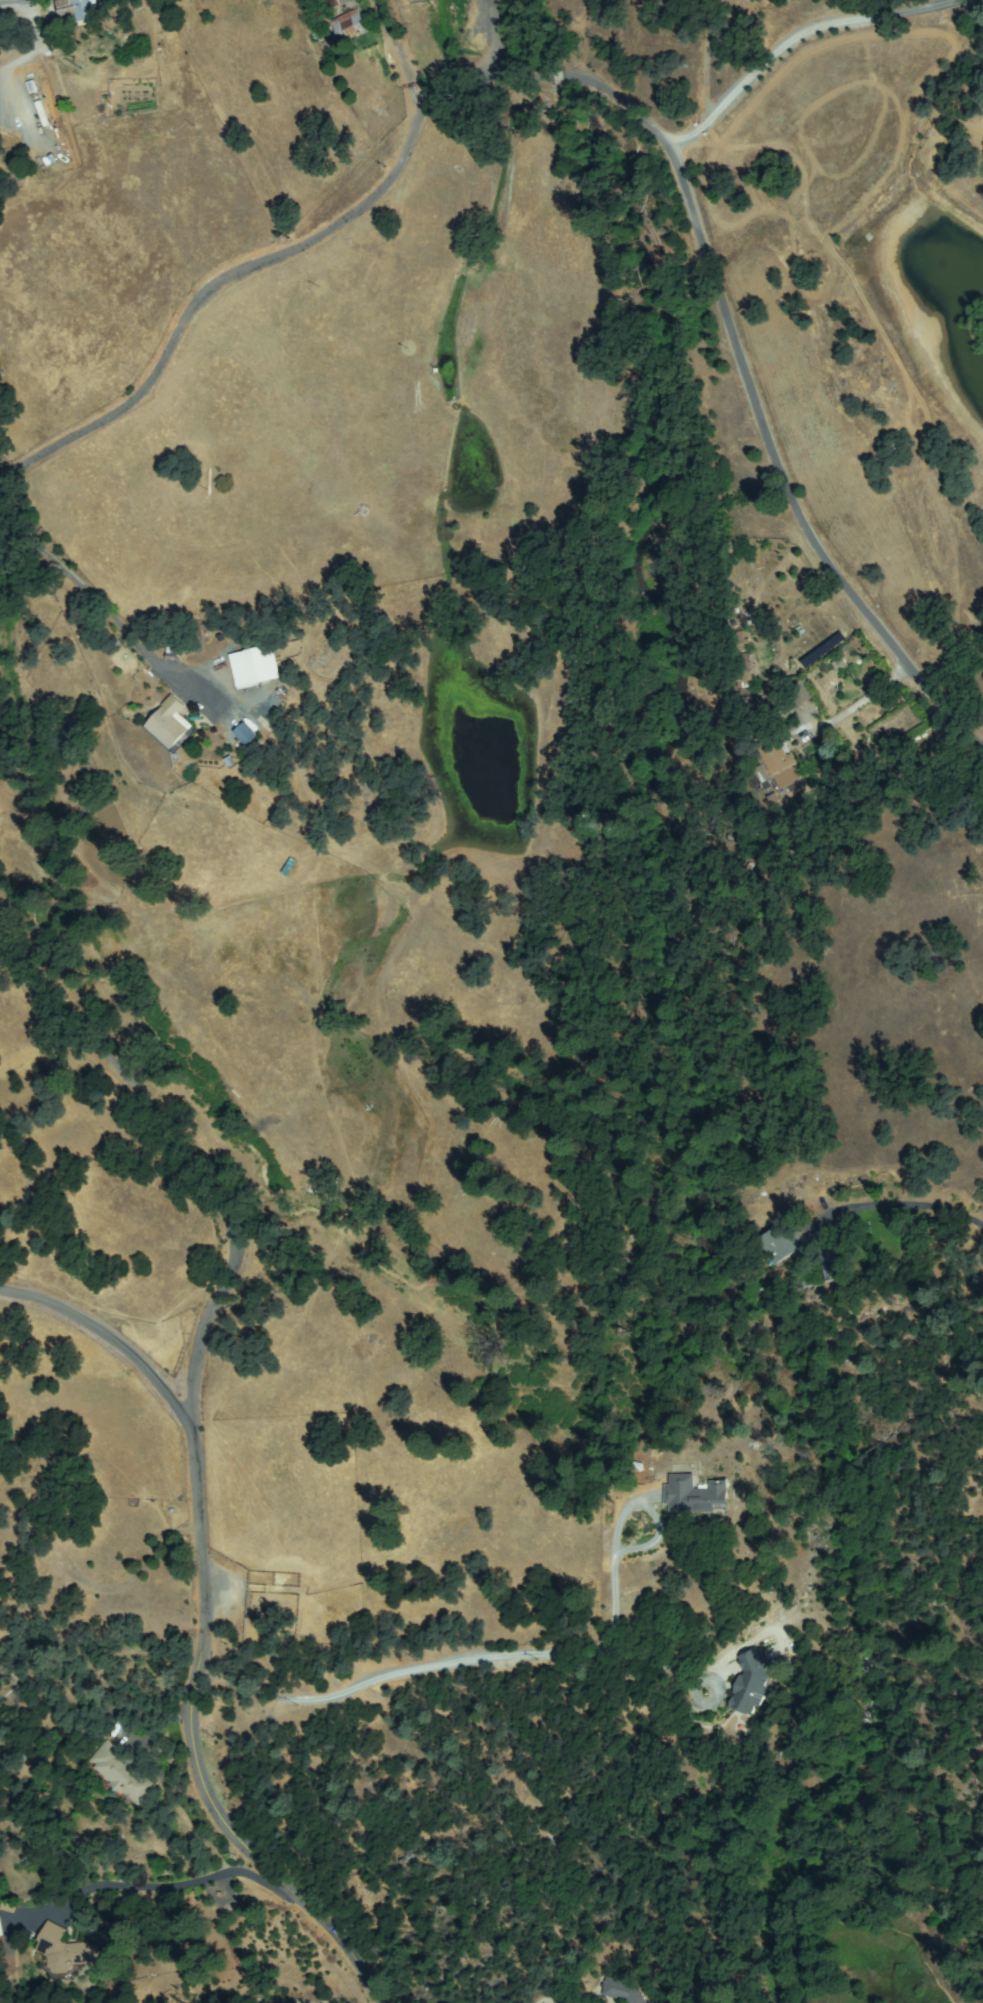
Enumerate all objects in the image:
building: (326, 3)
building: (332, 3)
building: (80, 9)
building: (348, 26)
road: (783, 38)
road: (394, 58)
road: (664, 71)
road: (4, 74)
road: (488, 121)
road: (252, 262)
road: (38, 345)
road: (745, 380)
road: (76, 513)
road: (802, 600)
building: (837, 664)
building: (254, 666)
building: (745, 673)
building: (801, 692)
building: (170, 725)
building: (247, 733)
building: (771, 760)
building: (779, 1246)
building: (831, 1264)
road: (874, 1291)
road: (103, 1338)
road: (191, 1446)
building: (695, 1496)
building: (59, 1518)
building: (753, 1682)
building: (124, 1775)
road: (327, 1838)
building: (66, 1951)
road: (577, 1986)
building: (626, 1991)

